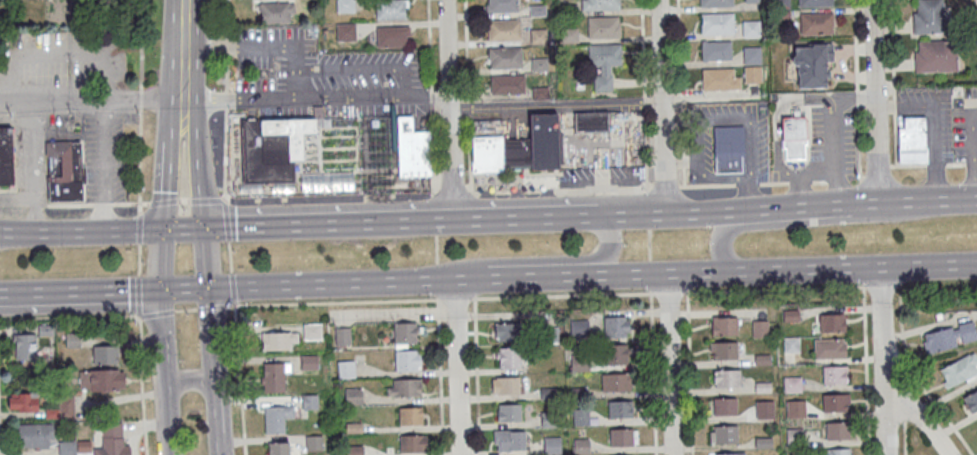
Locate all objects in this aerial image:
building: (751, 0)
building: (715, 3)
building: (781, 3)
building: (815, 3)
building: (603, 5)
building: (346, 6)
building: (502, 6)
building: (391, 9)
building: (537, 11)
building: (275, 14)
building: (929, 17)
building: (717, 24)
building: (817, 24)
building: (604, 28)
building: (505, 30)
building: (751, 31)
building: (347, 32)
building: (568, 36)
building: (392, 37)
building: (537, 37)
road: (227, 45)
road: (263, 46)
building: (716, 51)
road: (182, 53)
road: (54, 54)
road: (642, 54)
building: (605, 55)
building: (752, 56)
building: (936, 57)
building: (506, 59)
building: (811, 64)
building: (753, 74)
building: (720, 80)
road: (893, 83)
building: (506, 85)
road: (857, 89)
road: (681, 92)
road: (316, 95)
road: (468, 96)
road: (432, 98)
road: (90, 99)
road: (227, 101)
road: (873, 102)
road: (555, 103)
road: (140, 105)
road: (660, 106)
road: (451, 109)
road: (775, 120)
building: (589, 121)
road: (701, 122)
road: (177, 123)
road: (934, 125)
building: (793, 136)
building: (912, 140)
road: (832, 141)
building: (533, 145)
road: (974, 145)
building: (272, 147)
road: (646, 147)
building: (413, 149)
building: (728, 149)
building: (487, 153)
road: (225, 154)
building: (6, 156)
road: (105, 165)
road: (198, 165)
road: (933, 165)
road: (34, 166)
road: (876, 170)
building: (64, 171)
road: (836, 180)
building: (327, 182)
road: (163, 184)
road: (543, 189)
road: (753, 195)
road: (205, 199)
road: (162, 201)
road: (183, 201)
road: (71, 204)
road: (472, 206)
road: (647, 206)
road: (786, 208)
road: (434, 217)
road: (487, 217)
road: (227, 220)
road: (790, 223)
road: (290, 224)
road: (139, 227)
traffic signals: (204, 228)
road: (181, 229)
traffic signals: (158, 230)
road: (79, 231)
road: (3, 234)
road: (604, 249)
road: (437, 250)
road: (204, 258)
road: (230, 258)
road: (158, 260)
road: (778, 267)
road: (533, 275)
road: (470, 278)
road: (437, 280)
road: (330, 284)
road: (234, 288)
traffic signals: (207, 289)
road: (182, 290)
road: (775, 290)
traffic signals: (157, 291)
road: (669, 293)
road: (78, 295)
road: (563, 296)
road: (457, 300)
road: (337, 304)
road: (215, 308)
road: (186, 311)
road: (158, 315)
road: (70, 318)
building: (831, 322)
building: (723, 325)
building: (616, 326)
building: (578, 327)
building: (759, 328)
building: (312, 331)
building: (507, 331)
building: (406, 334)
building: (547, 335)
building: (949, 337)
building: (279, 341)
road: (651, 341)
building: (24, 347)
building: (829, 348)
road: (140, 349)
building: (722, 350)
building: (105, 354)
building: (616, 354)
building: (508, 358)
road: (885, 359)
building: (407, 360)
building: (309, 362)
road: (668, 363)
road: (455, 366)
building: (345, 369)
building: (958, 370)
road: (213, 371)
road: (866, 371)
road: (162, 373)
road: (690, 374)
building: (834, 374)
building: (274, 376)
road: (440, 376)
road: (477, 377)
building: (725, 378)
road: (239, 379)
building: (101, 380)
road: (917, 380)
road: (195, 381)
building: (615, 382)
building: (792, 383)
building: (506, 386)
building: (404, 387)
building: (353, 395)
building: (22, 401)
building: (970, 401)
building: (835, 402)
building: (724, 406)
building: (618, 409)
building: (764, 409)
road: (904, 409)
building: (509, 413)
road: (917, 413)
building: (410, 416)
building: (276, 418)
building: (836, 430)
building: (723, 434)
building: (35, 436)
building: (622, 437)
road: (904, 438)
building: (111, 440)
building: (509, 441)
building: (412, 443)
building: (552, 445)
building: (580, 446)
building: (278, 448)
building: (834, 451)
building: (729, 453)

